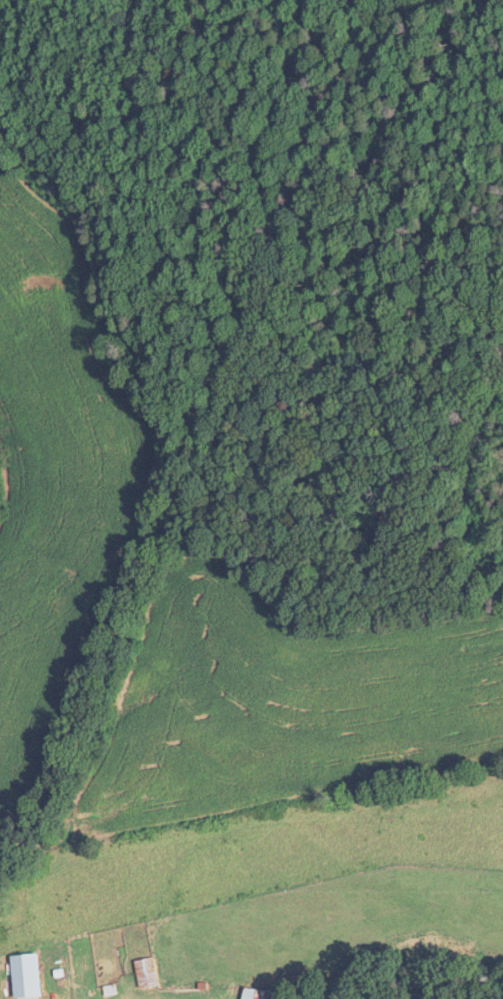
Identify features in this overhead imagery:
building: (147, 972)
building: (26, 975)
building: (255, 993)

